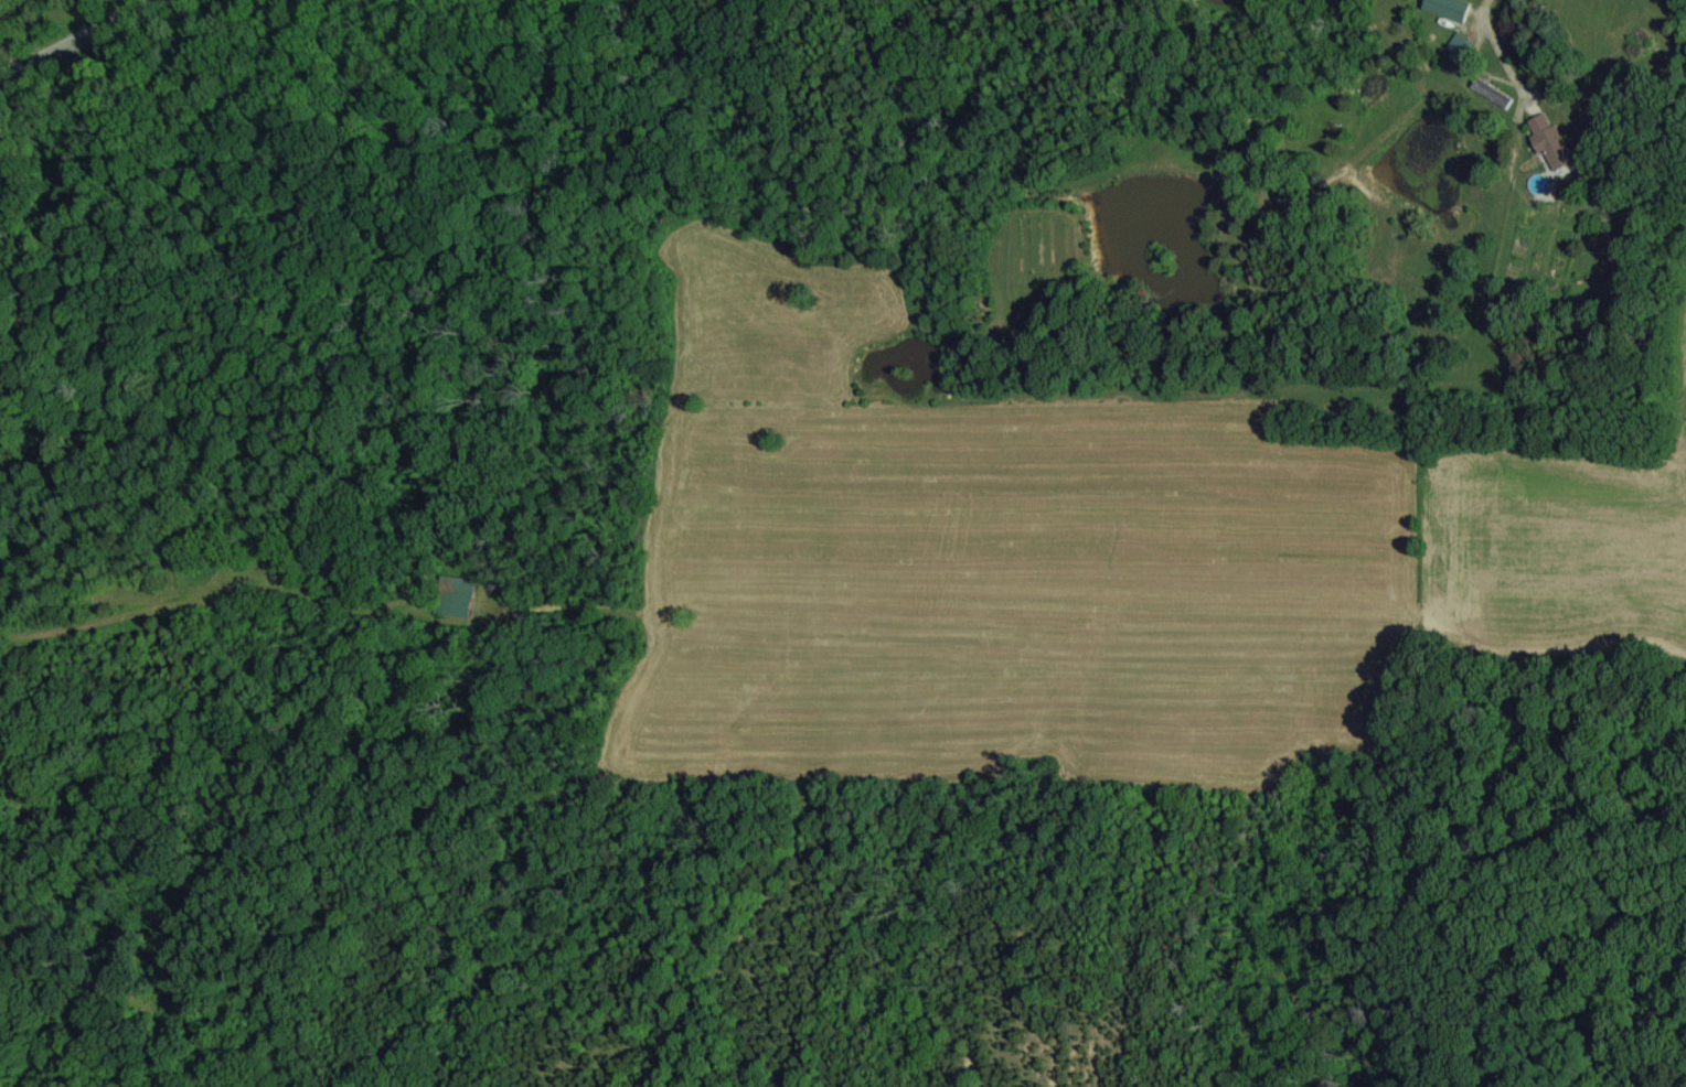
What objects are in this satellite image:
road: (1488, 7)
building: (1444, 9)
building: (1456, 46)
road: (85, 50)
building: (1546, 141)
building: (452, 598)

